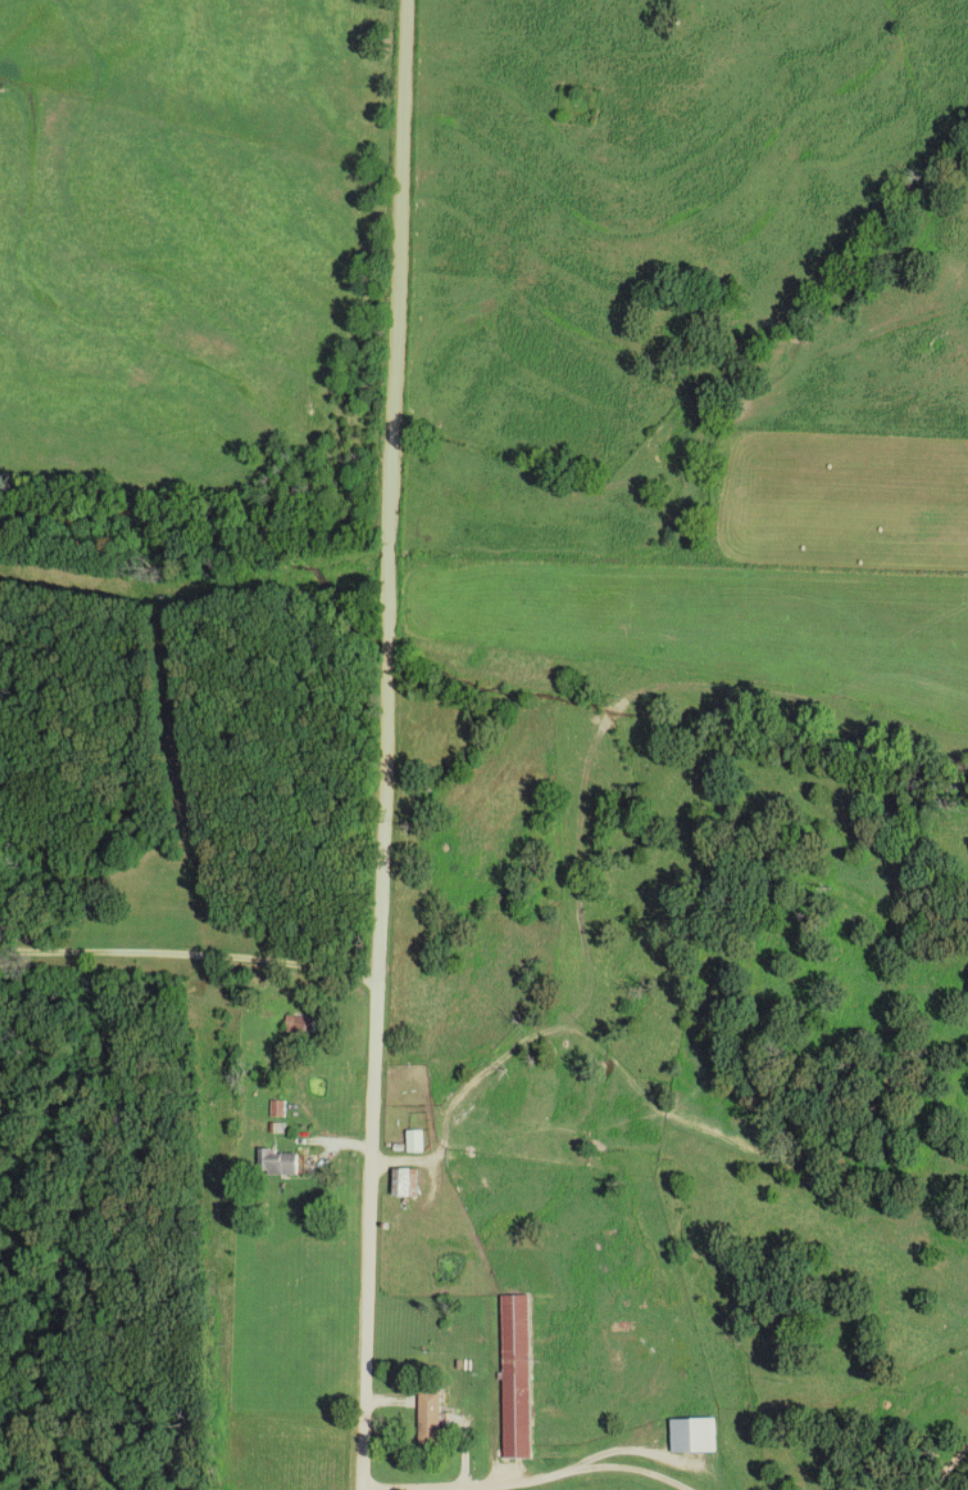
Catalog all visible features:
road: (396, 745)
road: (189, 958)
building: (297, 1023)
road: (446, 1131)
building: (417, 1140)
building: (282, 1161)
building: (406, 1181)
building: (518, 1376)
building: (432, 1419)
building: (695, 1435)
road: (948, 1469)
road: (530, 1480)
crop: (610, 1487)

